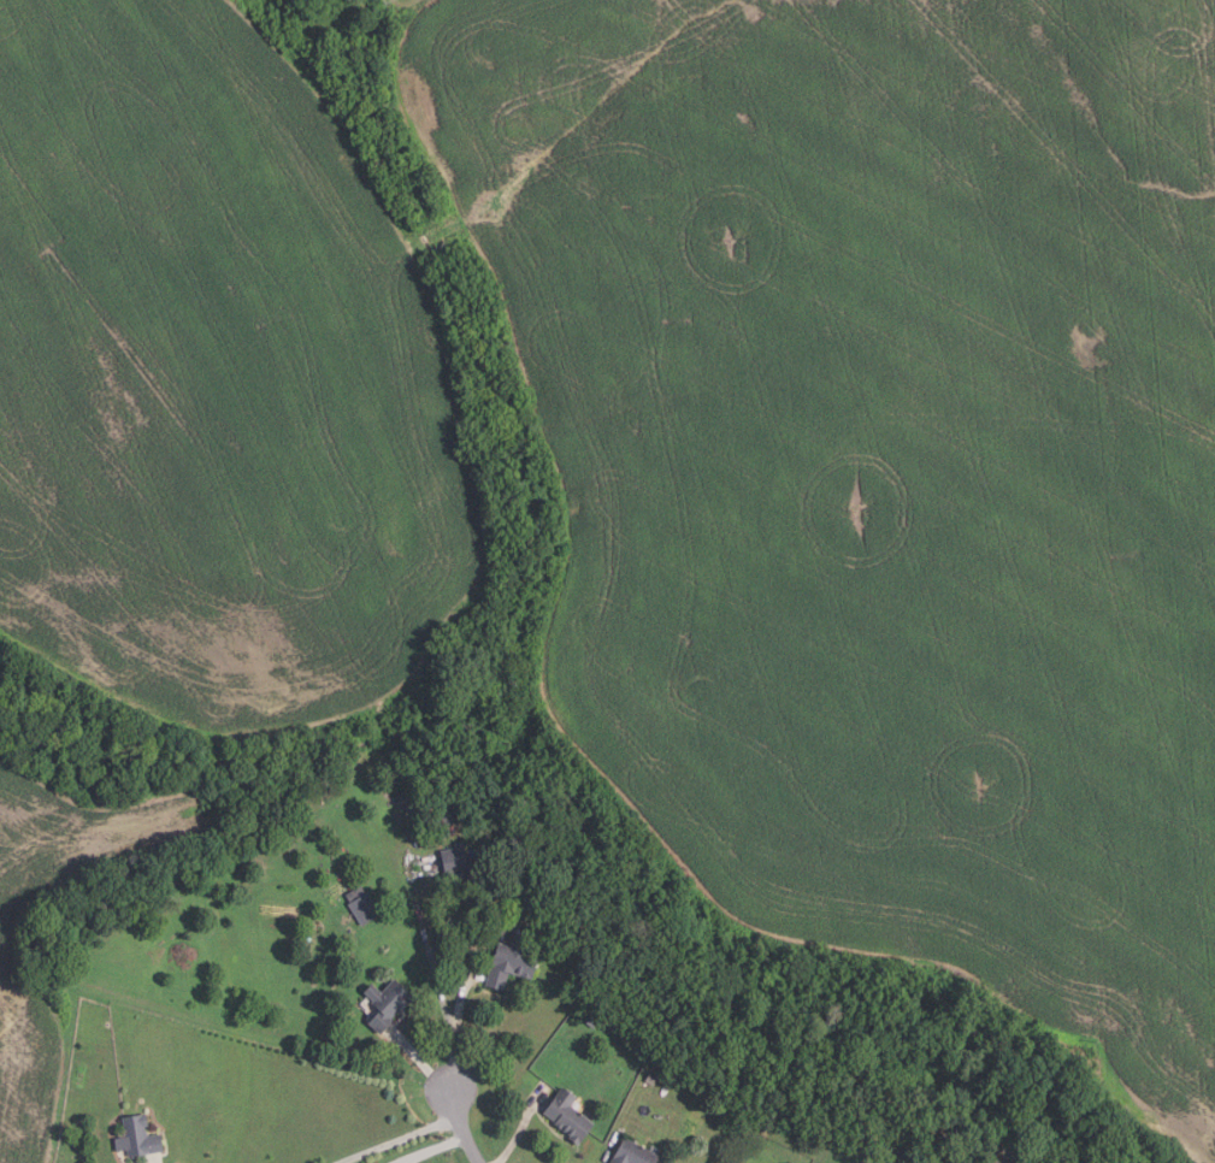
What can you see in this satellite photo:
building: (449, 815)
building: (455, 860)
building: (362, 904)
building: (513, 960)
building: (388, 1003)
building: (594, 1021)
road: (458, 1027)
road: (419, 1059)
building: (651, 1078)
building: (568, 1115)
road: (461, 1127)
road: (520, 1129)
building: (138, 1137)
road: (396, 1138)
road: (433, 1149)
building: (635, 1152)

